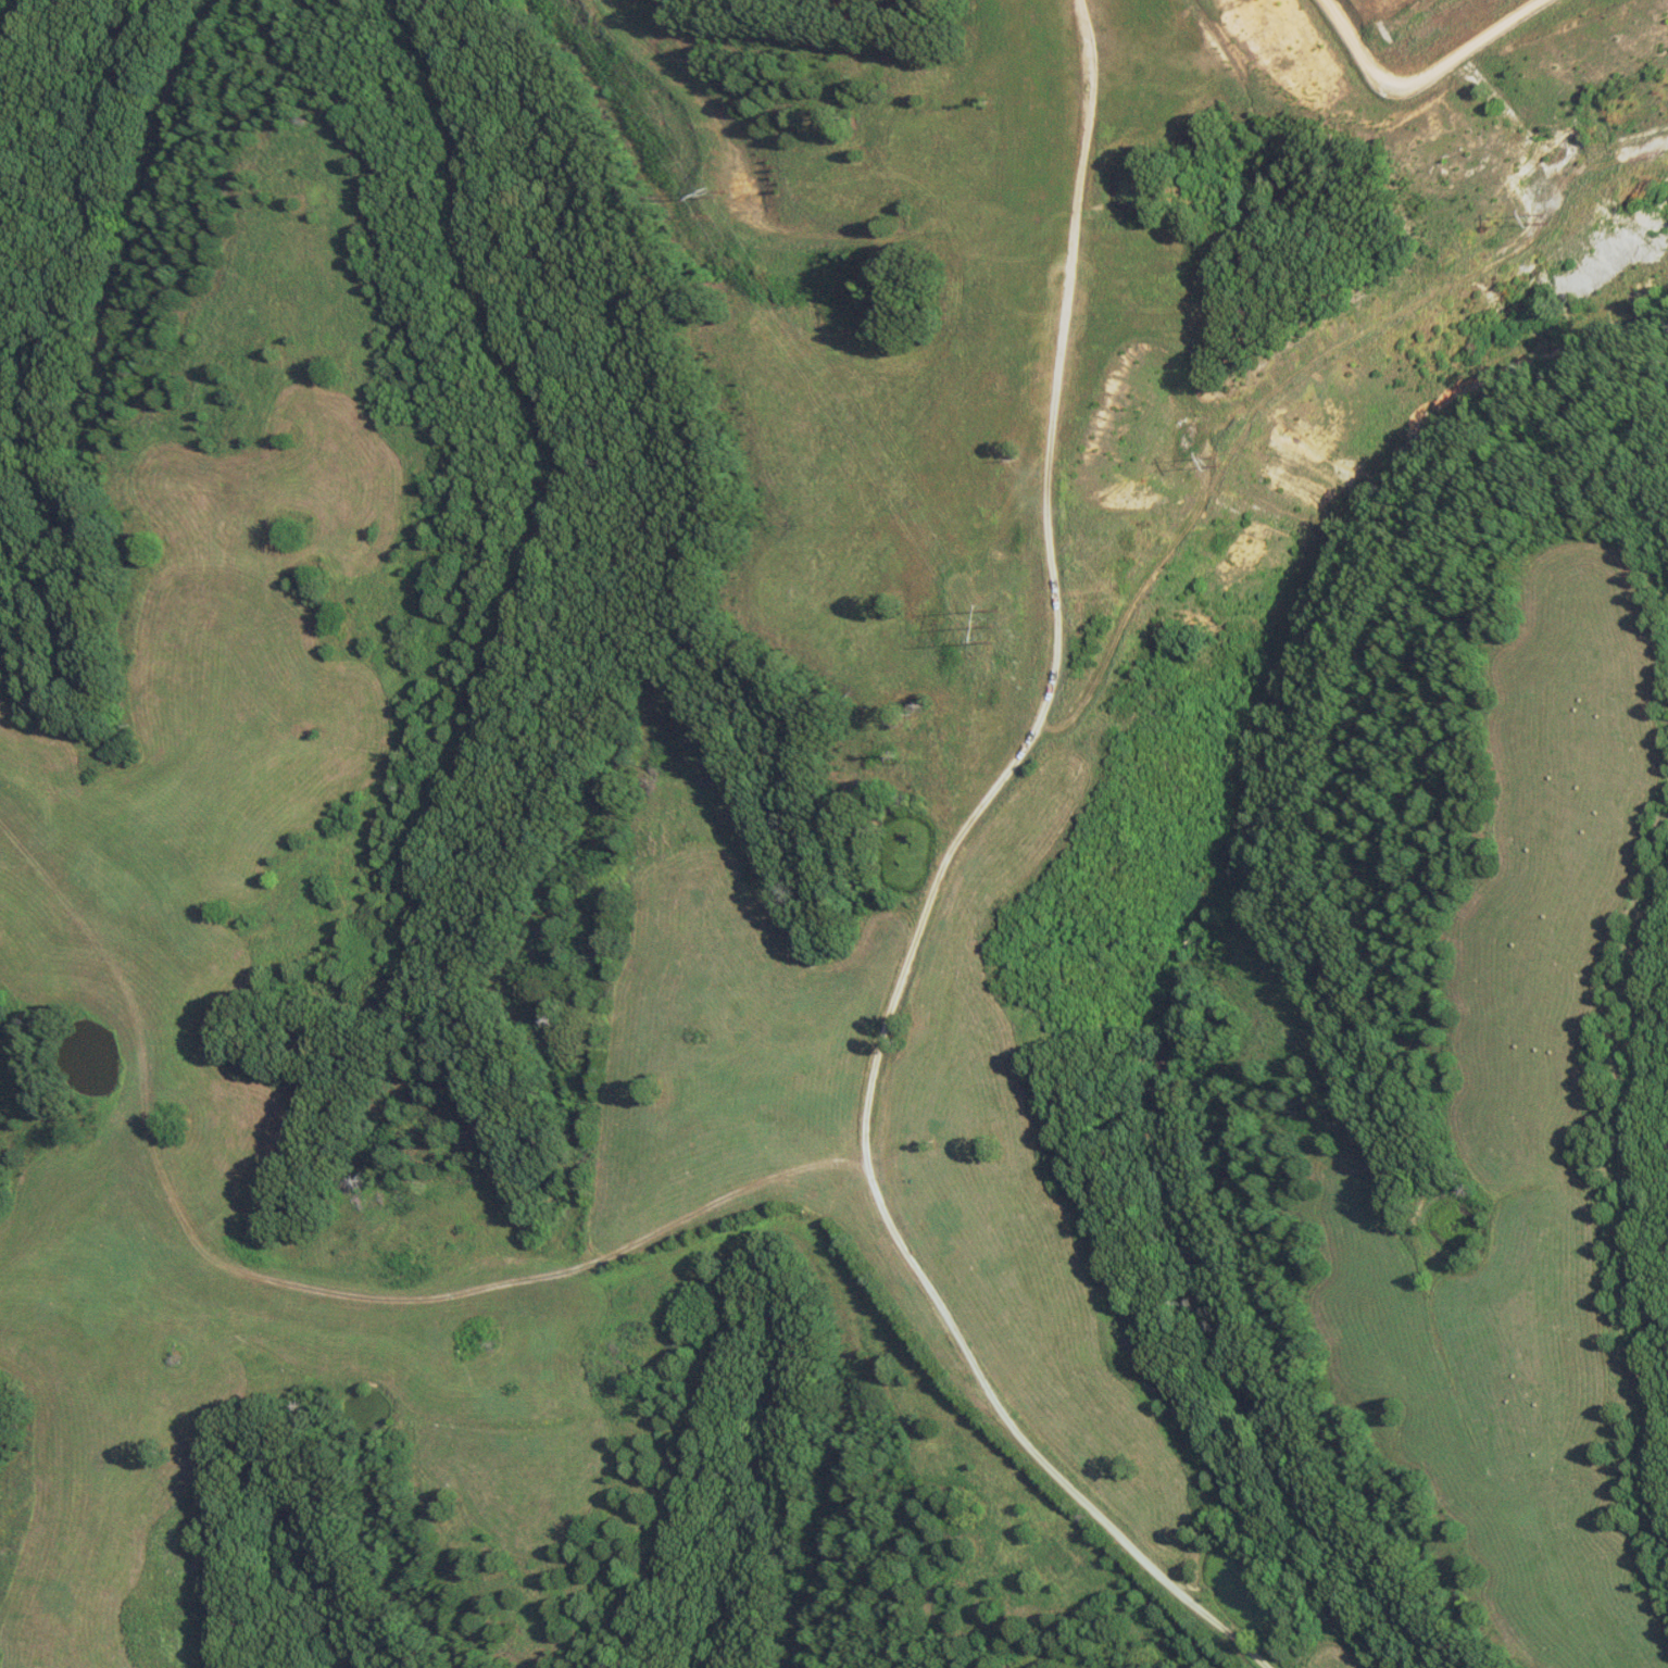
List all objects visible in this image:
road: (1415, 78)
power tower: (732, 197)
power tower: (1546, 221)
airport: (1181, 246)
power tower: (1220, 463)
power tower: (993, 626)

